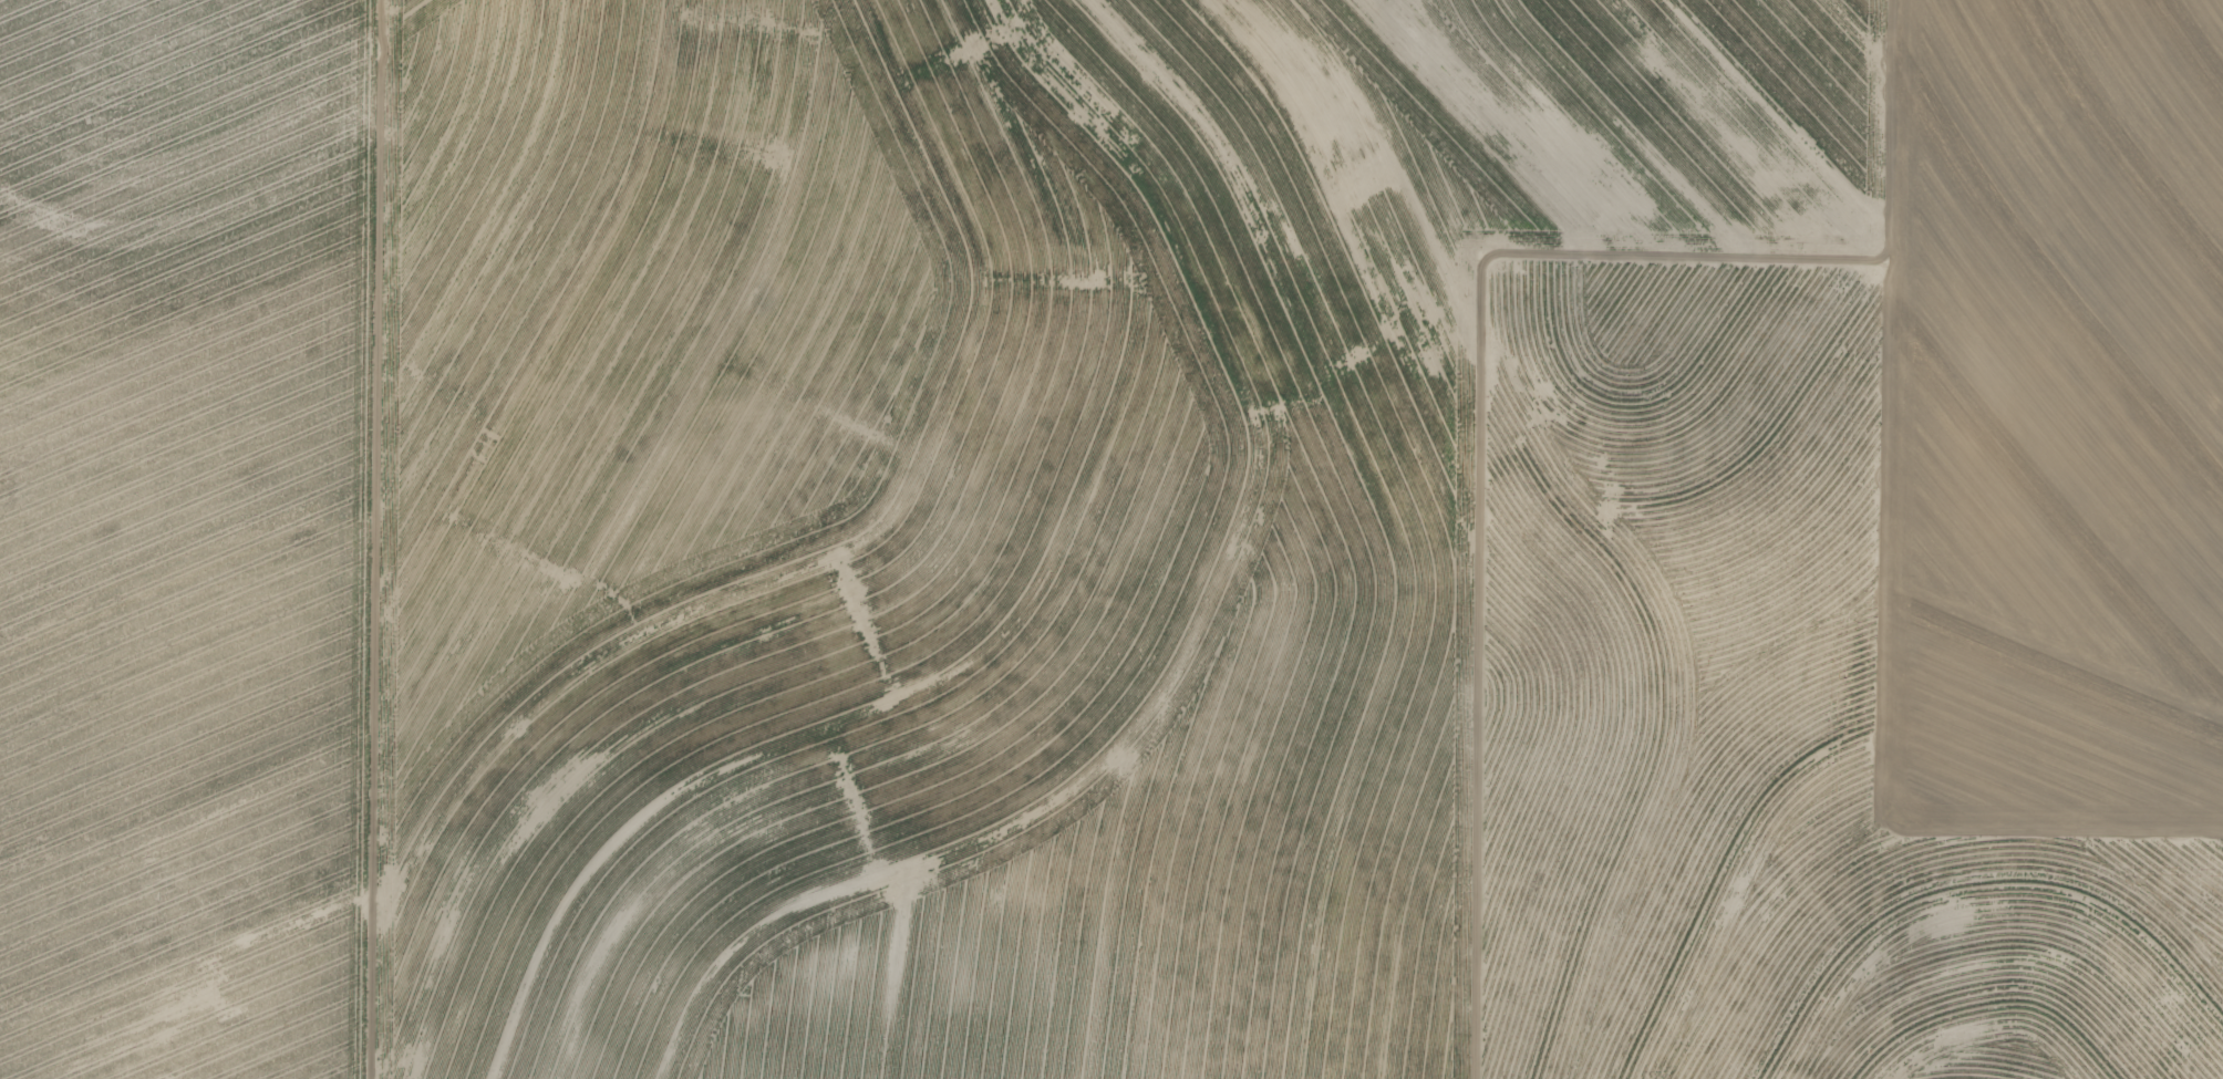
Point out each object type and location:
road: (1930, 968)

